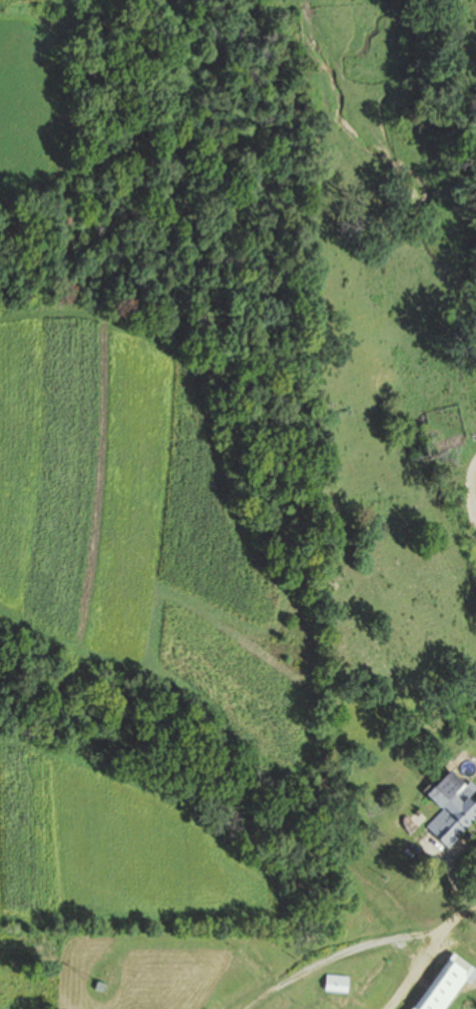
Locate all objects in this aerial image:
building: (449, 808)
building: (335, 982)
building: (445, 983)

